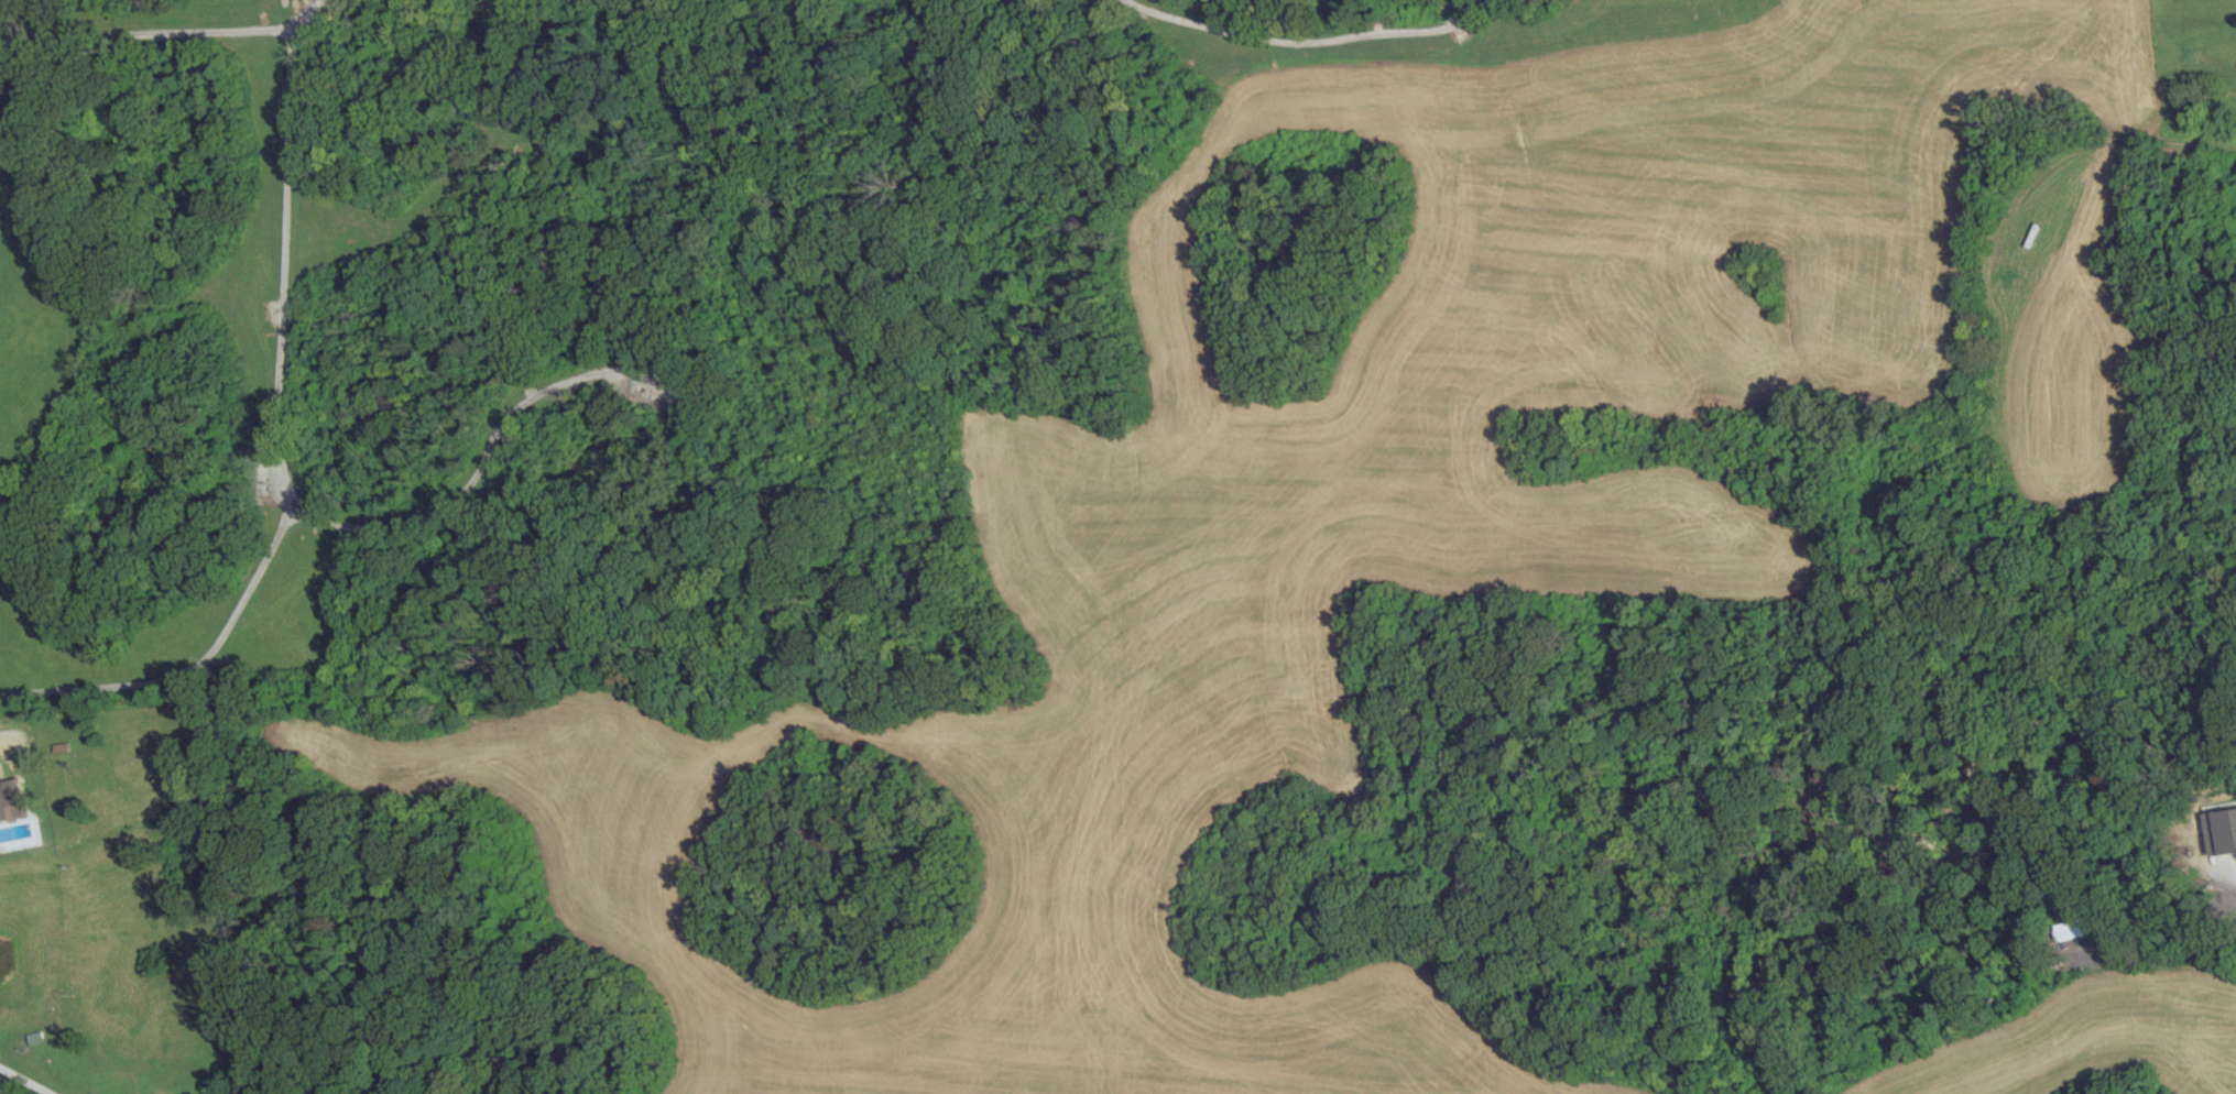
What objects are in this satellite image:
road: (305, 10)
road: (150, 33)
road: (1308, 43)
road: (2188, 139)
road: (497, 439)
road: (282, 456)
road: (302, 506)
road: (301, 515)
crop: (1368, 524)
building: (12, 799)
building: (2072, 929)
crop: (2079, 1037)
road: (24, 1080)

